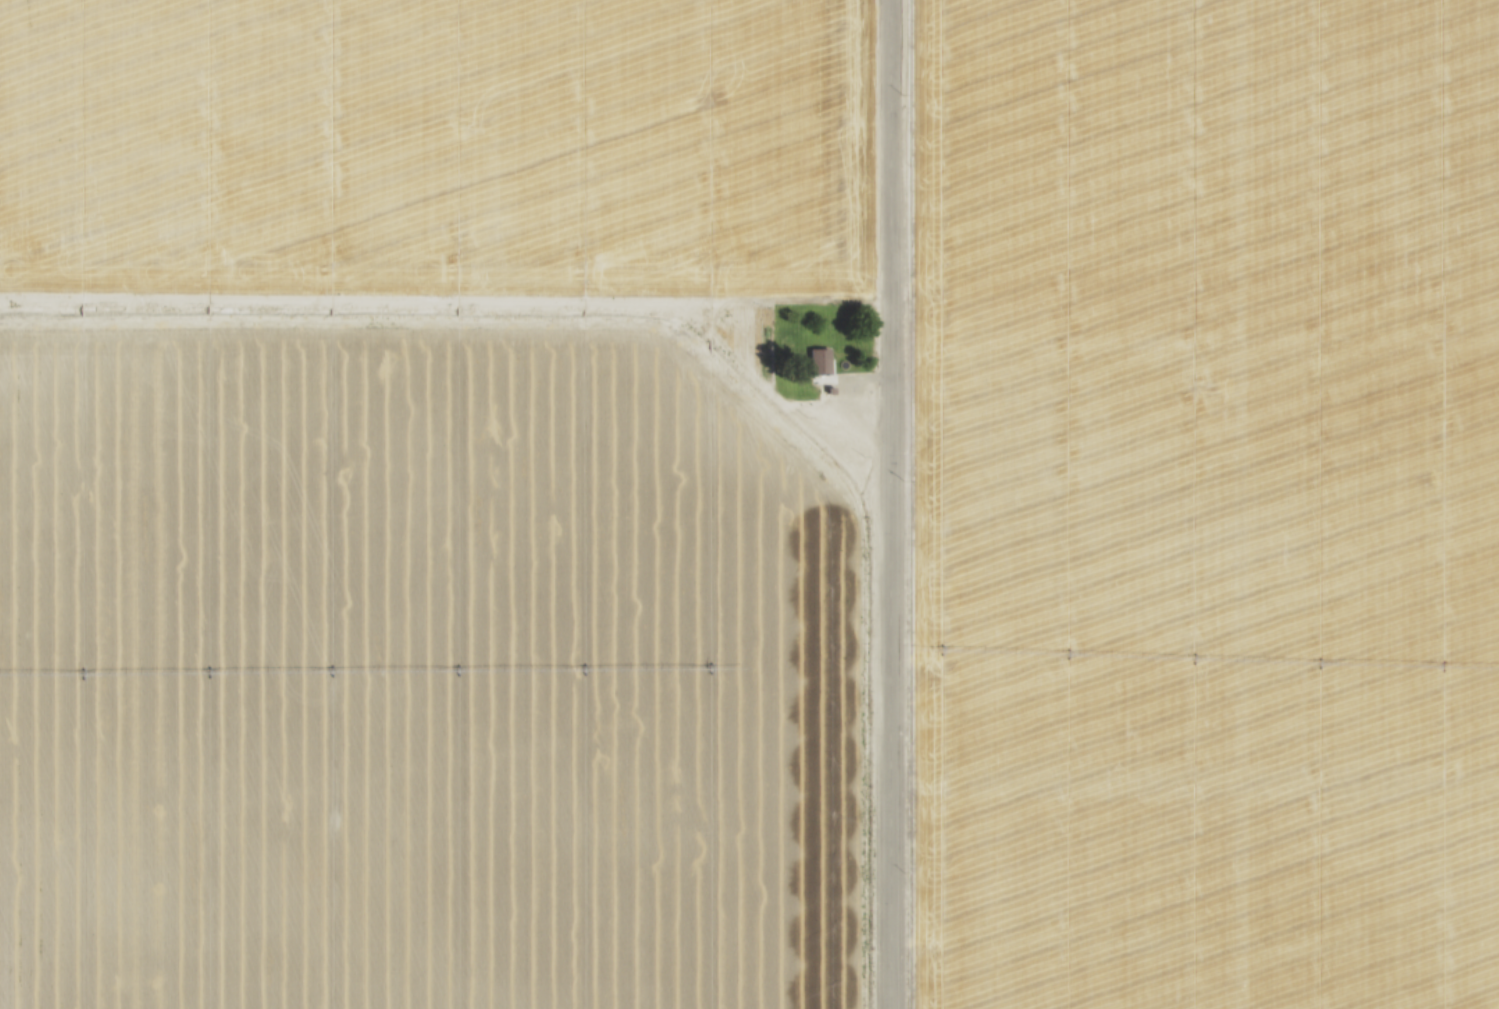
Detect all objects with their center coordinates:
building: (822, 363)
road: (757, 386)
road: (845, 408)
road: (888, 504)

